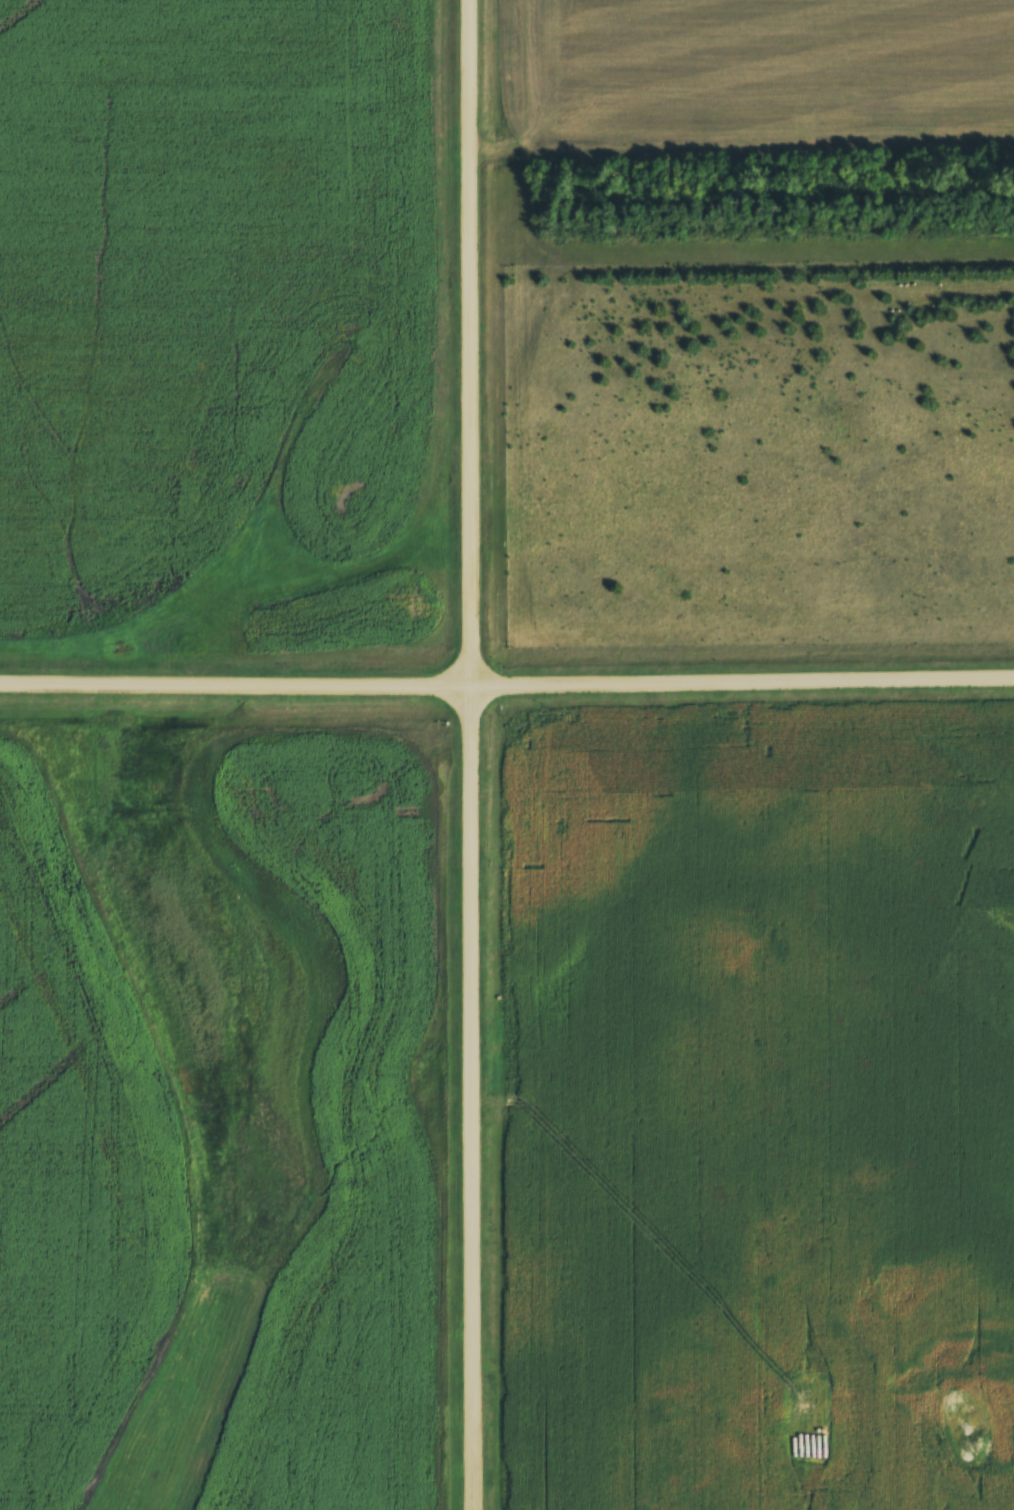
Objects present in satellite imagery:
road: (476, 343)
road: (507, 686)
road: (479, 1098)

